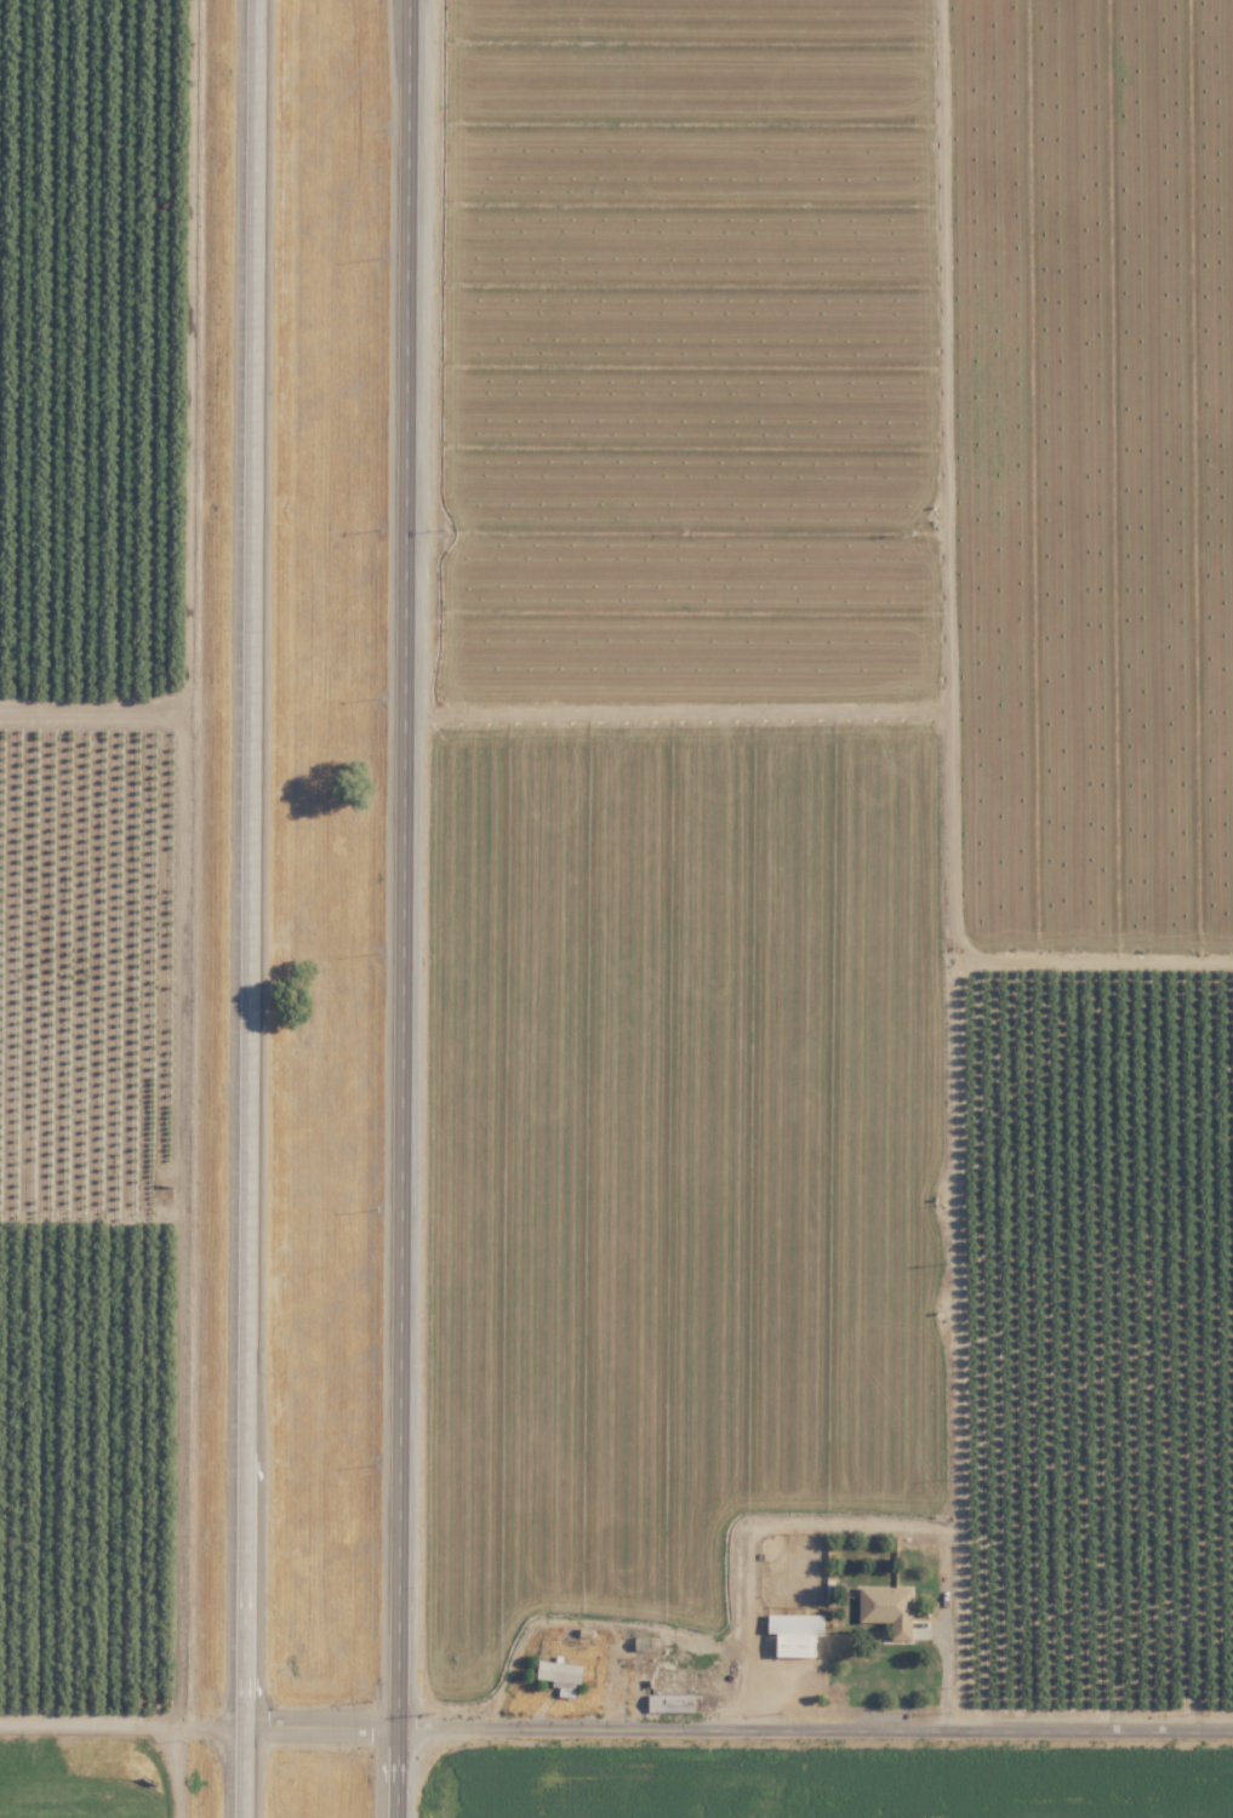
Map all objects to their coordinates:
road: (404, 908)
road: (261, 909)
crop: (839, 915)
crop: (93, 960)
road: (889, 1534)
building: (889, 1607)
building: (798, 1631)
road: (624, 1634)
building: (560, 1670)
road: (947, 1676)
building: (672, 1702)
road: (5, 1721)
road: (621, 1734)
crop: (90, 1770)
road: (175, 1774)

